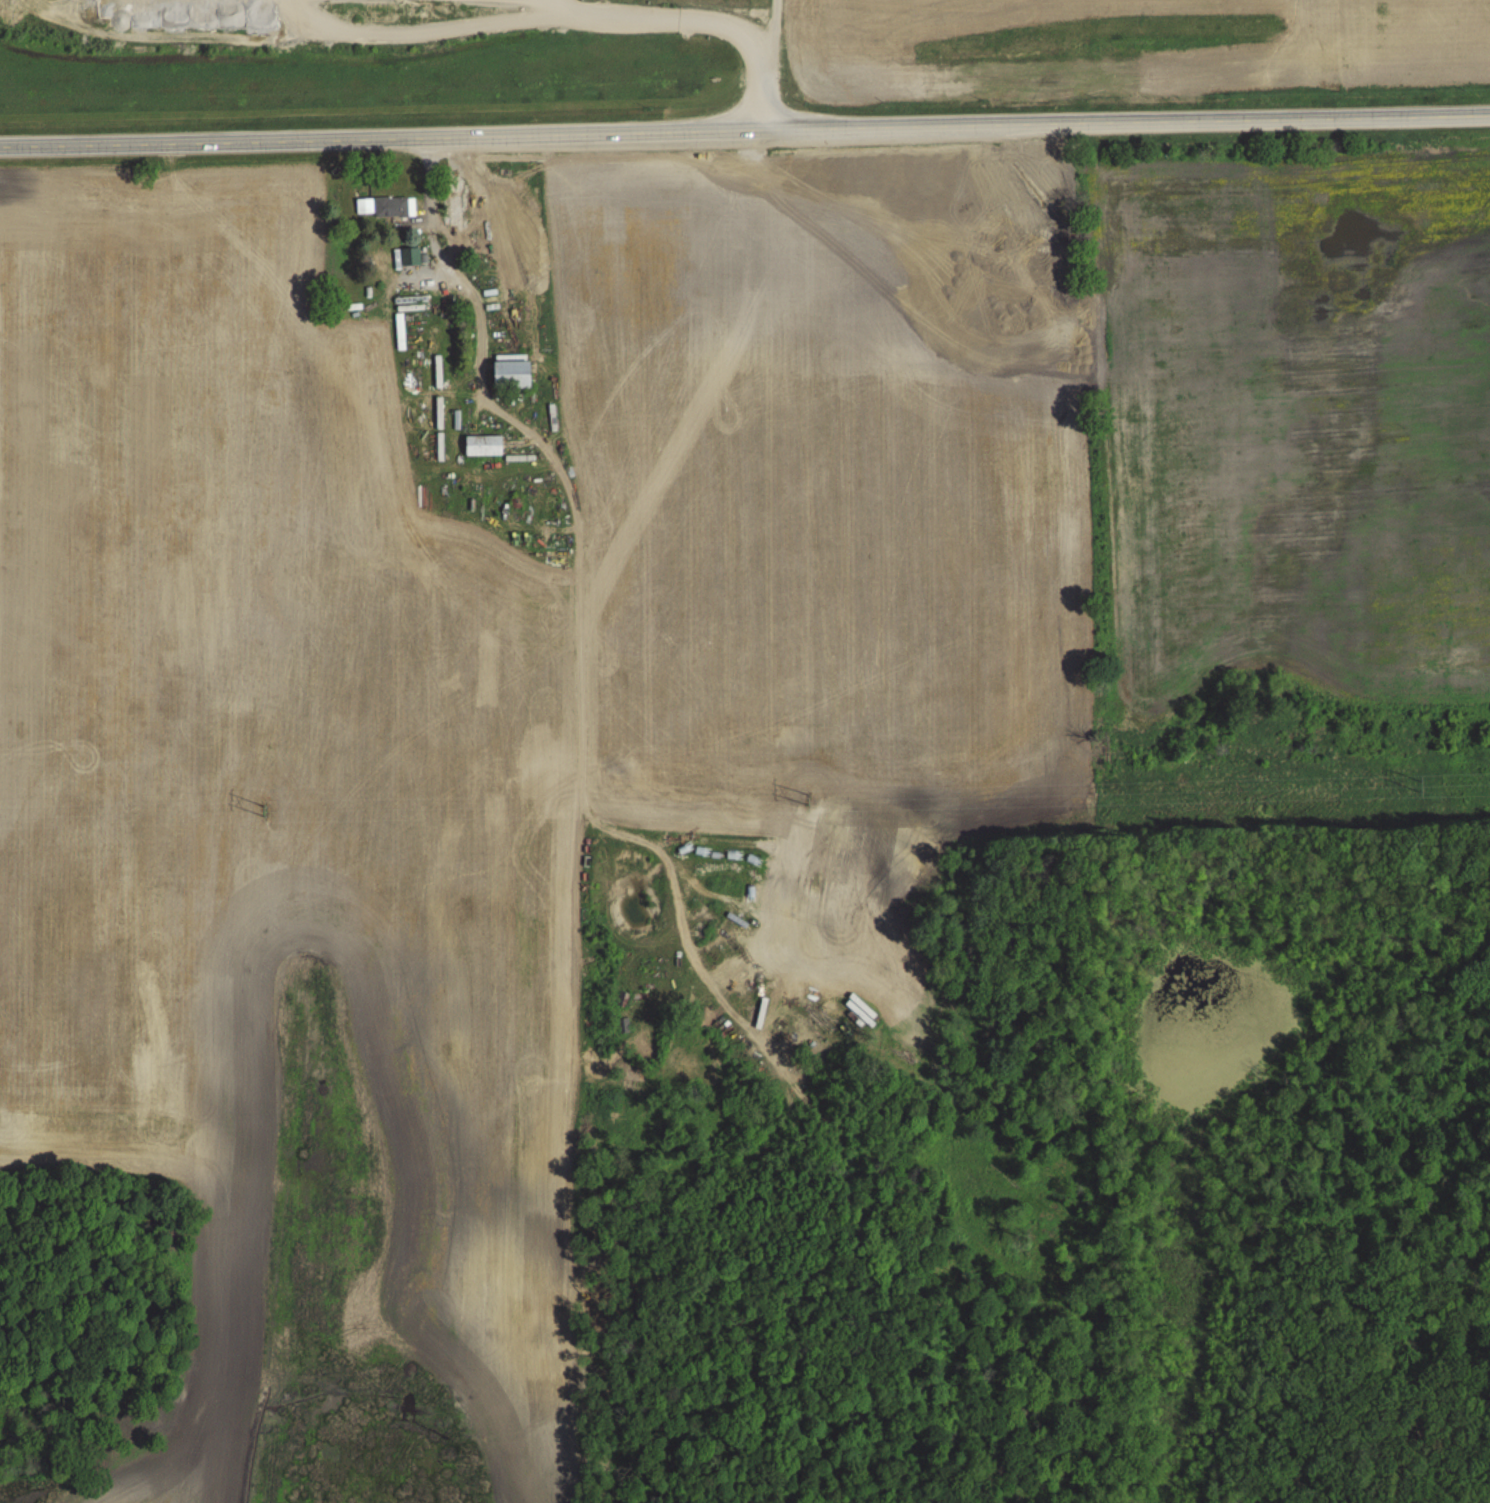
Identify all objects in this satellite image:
road: (769, 65)
road: (745, 130)
building: (363, 205)
building: (390, 206)
building: (511, 373)
building: (483, 445)
building: (762, 1068)

